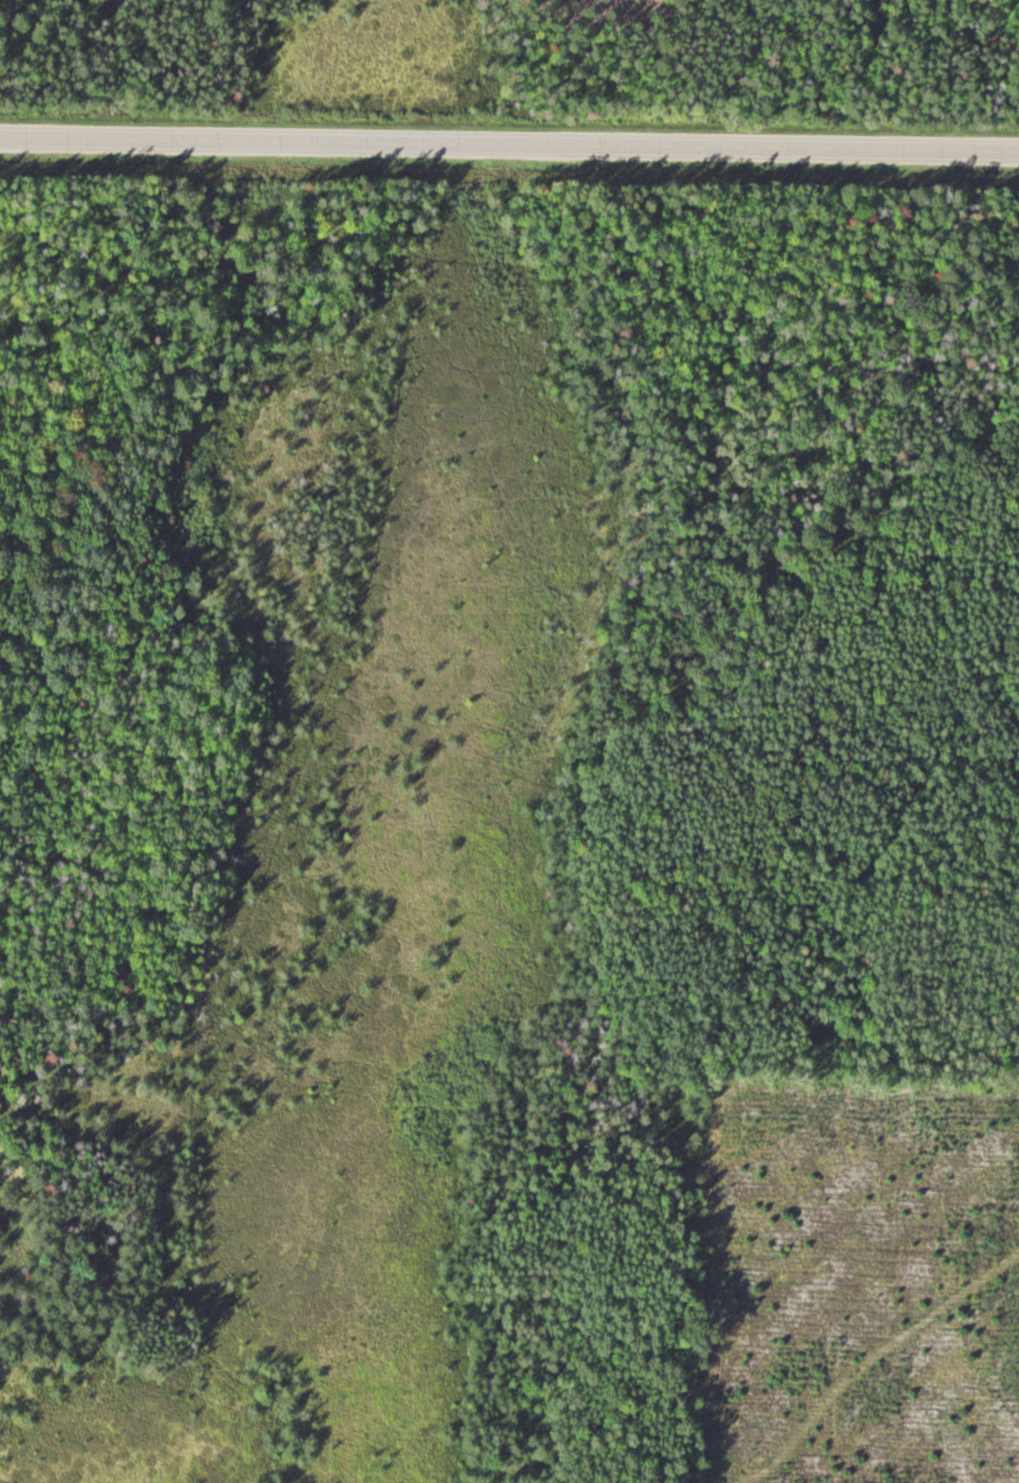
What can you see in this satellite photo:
road: (509, 145)

